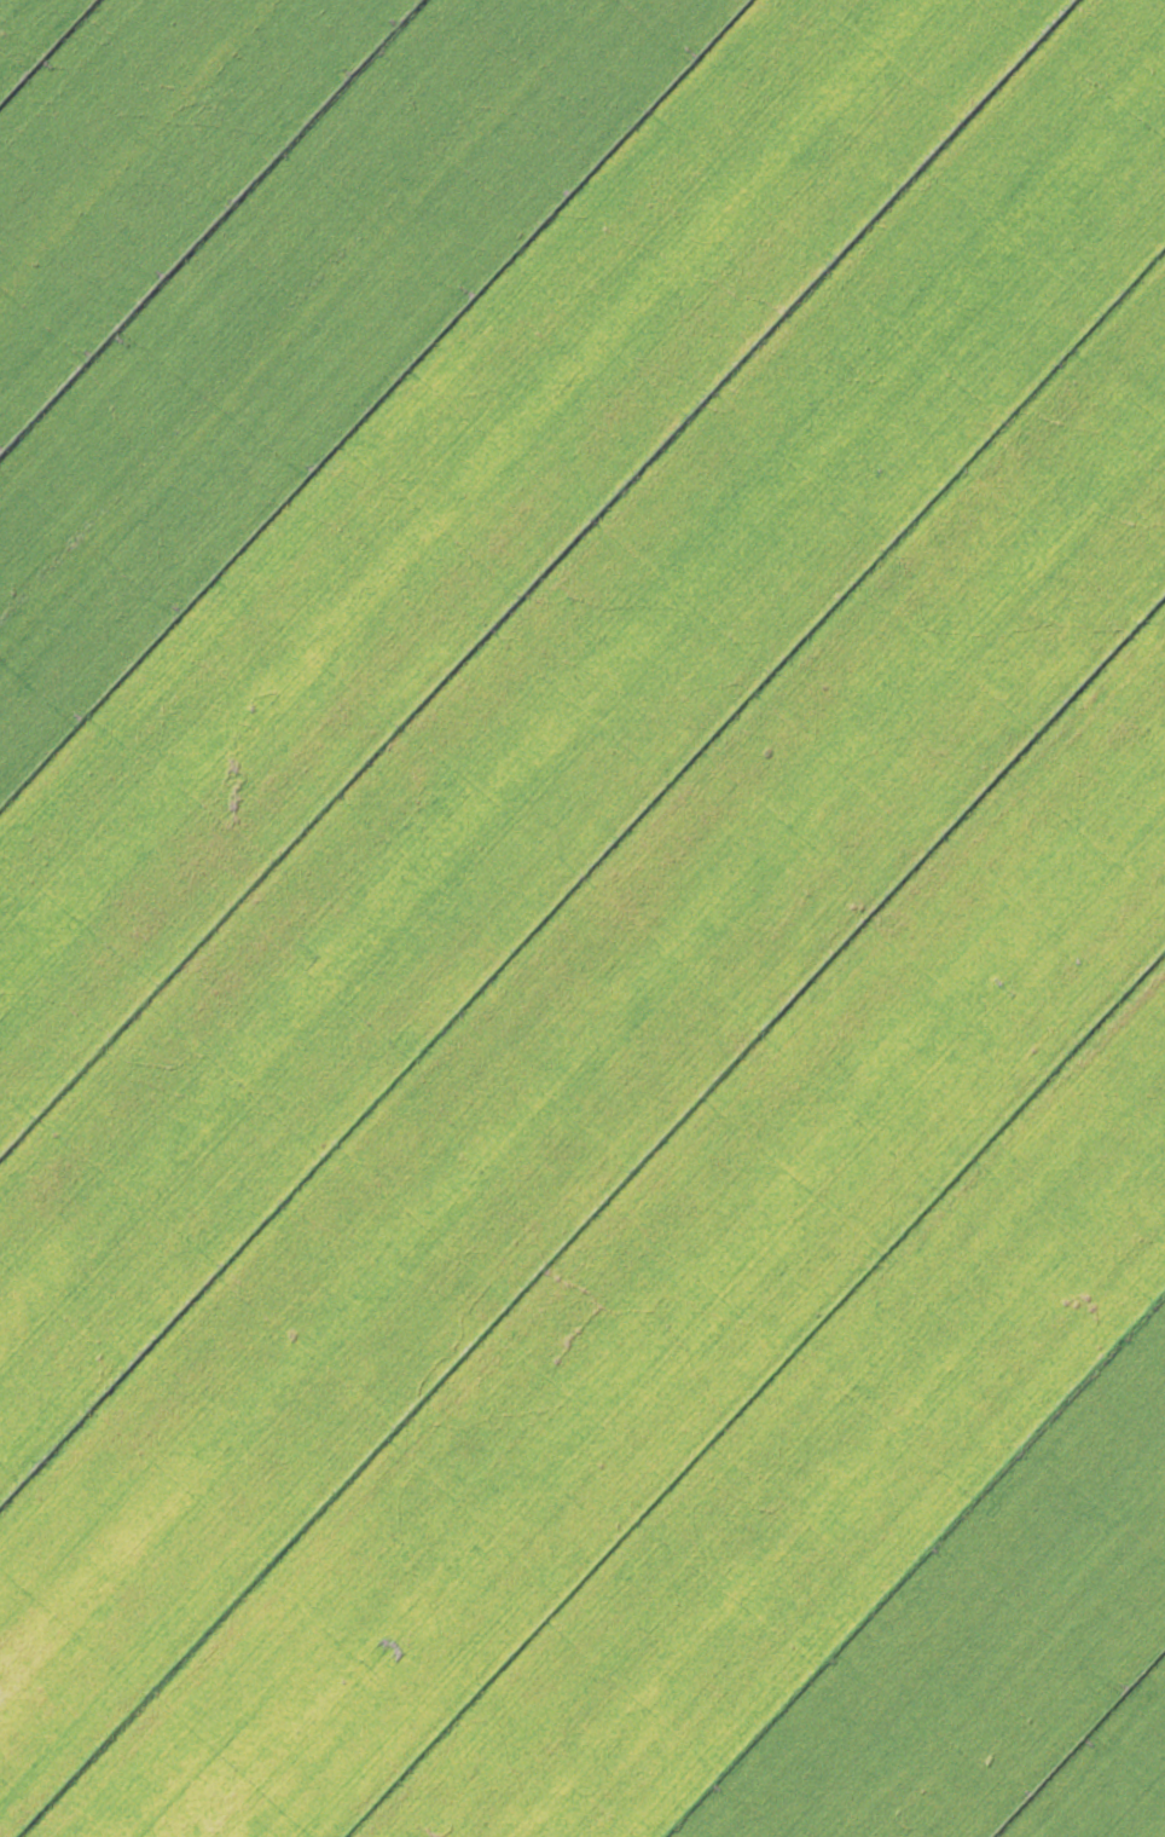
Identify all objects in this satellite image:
crop: (582, 918)

